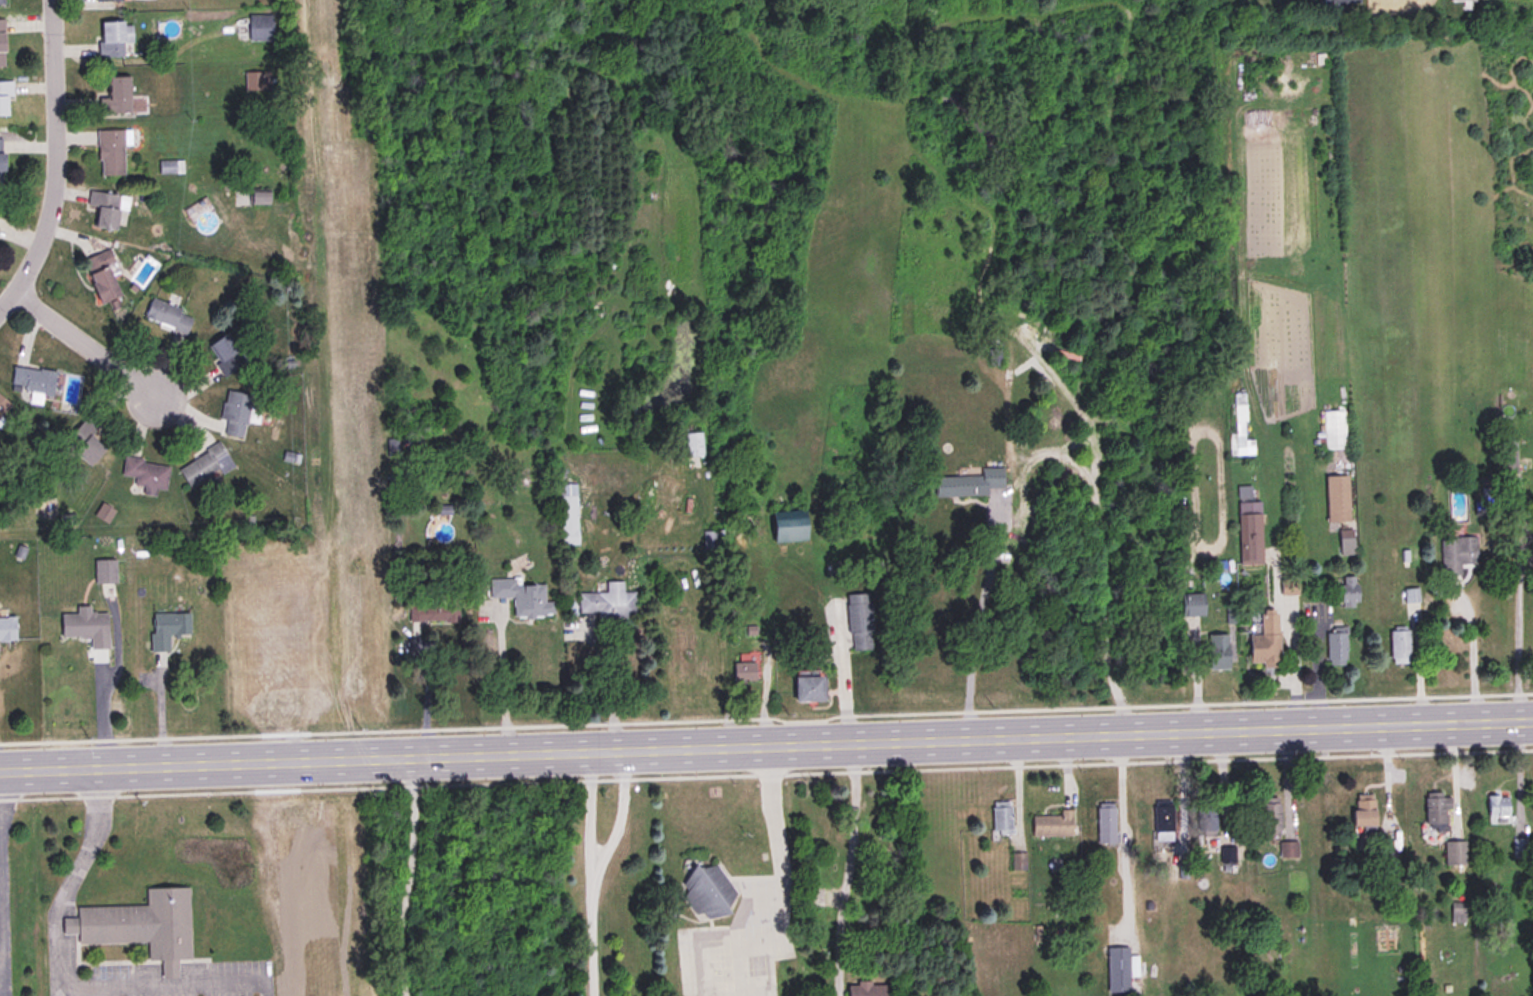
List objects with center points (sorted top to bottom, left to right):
building: (108, 0)
building: (2, 2)
building: (260, 27)
building: (113, 37)
building: (2, 42)
building: (116, 95)
building: (5, 98)
building: (110, 151)
building: (1, 160)
road: (55, 161)
building: (259, 196)
building: (106, 207)
building: (100, 274)
building: (168, 316)
road: (83, 343)
building: (225, 353)
building: (994, 357)
building: (33, 382)
building: (2, 404)
building: (234, 411)
building: (1, 420)
building: (1241, 427)
building: (1334, 429)
building: (83, 442)
building: (693, 444)
building: (1508, 454)
building: (204, 465)
building: (145, 473)
building: (968, 482)
building: (1337, 497)
building: (568, 512)
building: (789, 525)
building: (1249, 528)
building: (1346, 541)
building: (1456, 553)
building: (104, 570)
building: (1288, 586)
building: (1349, 591)
building: (1409, 595)
building: (523, 597)
building: (291, 599)
building: (606, 604)
building: (1192, 604)
building: (249, 615)
road: (973, 615)
building: (859, 621)
building: (85, 626)
building: (166, 627)
building: (7, 628)
building: (1265, 640)
road: (1514, 641)
building: (1399, 646)
building: (1336, 648)
building: (1218, 651)
road: (1469, 657)
road: (1290, 666)
building: (744, 671)
road: (837, 676)
road: (606, 684)
road: (499, 686)
building: (809, 687)
road: (294, 691)
road: (427, 695)
road: (101, 714)
road: (766, 747)
building: (1437, 808)
building: (1498, 809)
building: (1363, 812)
building: (1269, 816)
building: (1001, 817)
building: (1205, 821)
building: (1162, 823)
building: (1053, 824)
building: (1105, 824)
road: (1117, 832)
road: (771, 833)
building: (1287, 849)
building: (1455, 853)
building: (1227, 855)
road: (842, 869)
road: (594, 875)
road: (71, 878)
road: (406, 878)
building: (707, 891)
building: (1457, 912)
building: (139, 926)
building: (1117, 969)
road: (165, 986)
building: (867, 989)
road: (55, 993)

